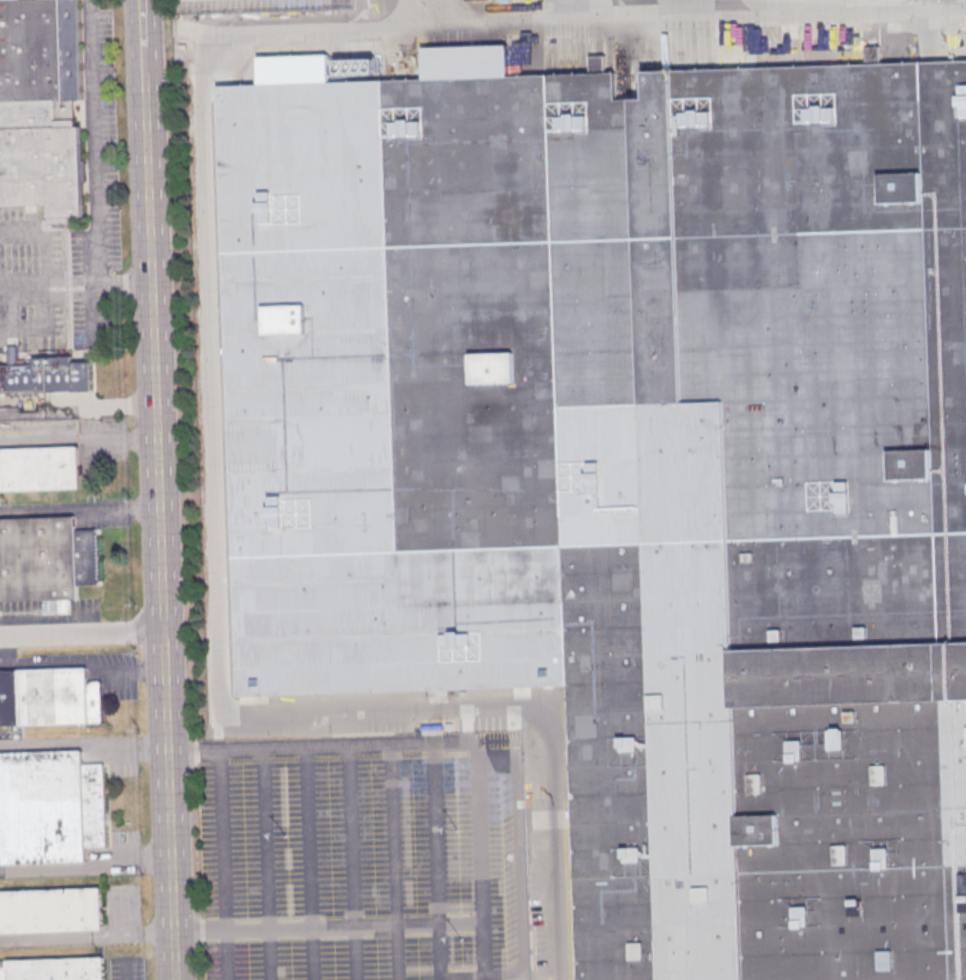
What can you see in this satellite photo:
parking lot: (259, 8)
road: (429, 14)
road: (141, 24)
building: (40, 107)
road: (95, 170)
road: (41, 235)
road: (22, 280)
road: (209, 295)
building: (46, 376)
road: (77, 435)
building: (630, 467)
building: (39, 470)
road: (80, 510)
road: (2, 513)
road: (157, 514)
building: (45, 558)
road: (42, 617)
road: (80, 635)
building: (48, 696)
road: (82, 745)
road: (493, 762)
building: (50, 806)
parking lot: (374, 843)
road: (436, 859)
road: (351, 862)
road: (394, 862)
road: (221, 864)
road: (265, 864)
road: (306, 864)
road: (84, 866)
road: (477, 869)
building: (51, 910)
road: (325, 922)
road: (85, 939)
building: (52, 969)

